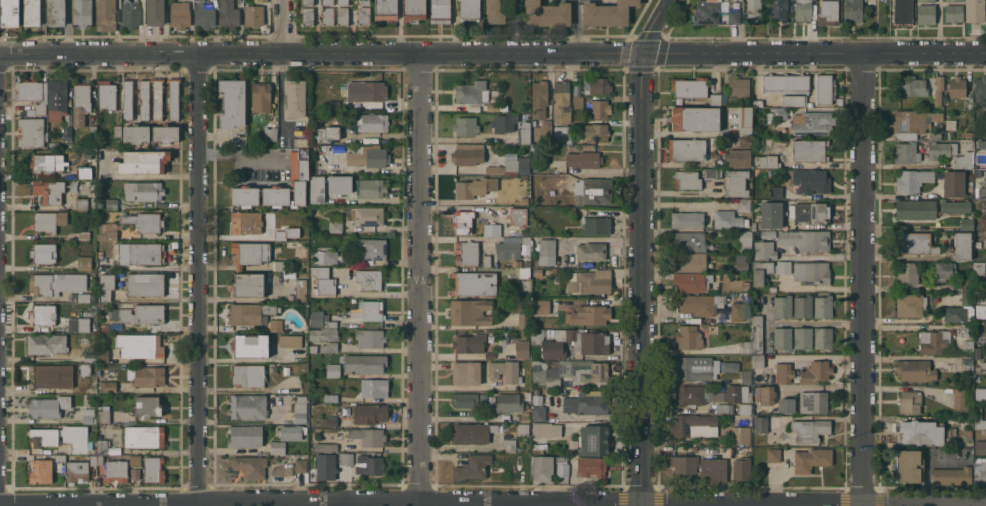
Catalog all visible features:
building: (262, 1)
building: (926, 1)
building: (954, 1)
building: (307, 2)
building: (327, 2)
building: (342, 2)
building: (364, 2)
building: (386, 9)
building: (470, 9)
building: (778, 9)
building: (414, 10)
building: (753, 10)
building: (803, 10)
building: (440, 11)
building: (496, 11)
building: (853, 11)
building: (975, 11)
building: (10, 12)
building: (31, 12)
building: (56, 12)
building: (82, 12)
building: (155, 12)
building: (707, 12)
building: (829, 12)
building: (902, 12)
building: (547, 13)
building: (607, 13)
building: (954, 13)
building: (925, 14)
building: (106, 15)
building: (130, 15)
building: (180, 15)
building: (204, 15)
building: (229, 15)
building: (254, 15)
building: (364, 15)
building: (307, 16)
building: (328, 16)
building: (342, 16)
building: (734, 16)
road: (575, 25)
road: (939, 25)
road: (286, 27)
road: (492, 52)
road: (1, 72)
building: (785, 82)
building: (596, 85)
building: (910, 86)
building: (690, 87)
building: (738, 87)
building: (957, 87)
building: (576, 88)
building: (824, 89)
building: (980, 89)
building: (30, 90)
building: (318, 90)
building: (938, 90)
building: (366, 91)
building: (472, 92)
building: (57, 95)
building: (107, 95)
building: (261, 97)
building: (157, 98)
building: (174, 98)
building: (296, 98)
building: (127, 99)
building: (144, 99)
building: (539, 99)
building: (715, 99)
building: (794, 100)
building: (561, 102)
building: (578, 102)
building: (757, 102)
building: (233, 103)
building: (81, 104)
building: (334, 105)
building: (492, 107)
building: (40, 109)
building: (598, 109)
building: (780, 113)
building: (695, 118)
building: (745, 119)
building: (914, 120)
building: (504, 122)
building: (373, 123)
building: (533, 123)
building: (578, 123)
building: (812, 123)
building: (950, 125)
building: (465, 126)
building: (93, 131)
building: (117, 131)
building: (543, 131)
building: (31, 132)
building: (67, 132)
building: (326, 132)
building: (136, 133)
building: (166, 133)
building: (270, 133)
building: (596, 133)
building: (524, 134)
building: (935, 135)
building: (568, 137)
building: (785, 139)
building: (760, 141)
building: (715, 142)
building: (745, 142)
building: (981, 144)
building: (687, 149)
building: (940, 149)
building: (809, 150)
road: (237, 153)
building: (907, 153)
building: (468, 154)
building: (87, 156)
building: (368, 156)
building: (739, 157)
building: (583, 159)
building: (963, 160)
building: (144, 161)
building: (766, 161)
building: (47, 164)
building: (511, 167)
building: (81, 173)
building: (712, 173)
building: (977, 173)
building: (299, 176)
building: (687, 180)
building: (912, 180)
building: (811, 181)
building: (985, 181)
building: (736, 183)
building: (338, 184)
building: (954, 184)
building: (315, 188)
building: (371, 188)
building: (467, 188)
building: (49, 191)
building: (143, 191)
building: (592, 191)
building: (327, 192)
building: (509, 192)
building: (776, 192)
building: (979, 193)
building: (245, 196)
building: (276, 196)
building: (569, 201)
road: (677, 203)
building: (82, 204)
building: (743, 205)
building: (955, 206)
building: (569, 209)
building: (916, 209)
building: (811, 212)
building: (771, 215)
building: (368, 216)
building: (518, 216)
building: (688, 219)
building: (727, 219)
building: (49, 221)
building: (144, 221)
building: (246, 222)
building: (464, 222)
building: (967, 223)
building: (984, 223)
building: (597, 225)
building: (335, 226)
building: (491, 229)
building: (525, 233)
building: (292, 234)
building: (768, 234)
building: (84, 235)
building: (108, 236)
building: (985, 237)
road: (604, 239)
building: (806, 239)
building: (526, 240)
building: (745, 240)
building: (689, 241)
building: (914, 243)
building: (977, 244)
building: (963, 245)
building: (371, 249)
road: (641, 249)
building: (508, 250)
building: (764, 250)
building: (547, 251)
building: (591, 251)
building: (44, 253)
building: (145, 253)
building: (250, 253)
building: (467, 253)
building: (325, 256)
building: (489, 261)
building: (690, 261)
building: (84, 262)
building: (105, 262)
building: (742, 262)
building: (969, 264)
building: (280, 266)
building: (980, 268)
building: (768, 270)
building: (944, 270)
building: (537, 271)
building: (555, 271)
building: (812, 272)
building: (524, 273)
building: (907, 273)
building: (93, 274)
road: (862, 278)
road: (198, 279)
building: (368, 279)
road: (422, 279)
building: (323, 280)
building: (589, 281)
building: (692, 282)
building: (57, 283)
building: (474, 283)
building: (145, 284)
building: (248, 284)
building: (967, 284)
building: (745, 285)
building: (106, 286)
building: (773, 289)
building: (301, 290)
building: (84, 297)
building: (966, 299)
building: (700, 303)
building: (101, 304)
building: (911, 305)
building: (542, 306)
building: (783, 306)
building: (803, 306)
building: (823, 306)
building: (371, 310)
building: (737, 311)
building: (470, 312)
building: (954, 313)
building: (42, 314)
building: (140, 314)
building: (250, 314)
building: (588, 315)
building: (524, 320)
road: (811, 321)
building: (319, 323)
building: (330, 323)
building: (84, 325)
building: (276, 325)
building: (105, 327)
road: (908, 327)
building: (966, 330)
building: (324, 334)
building: (758, 334)
building: (537, 335)
building: (688, 337)
building: (370, 338)
building: (783, 338)
building: (823, 338)
building: (586, 340)
building: (290, 341)
building: (934, 341)
building: (47, 343)
building: (469, 343)
building: (141, 345)
building: (250, 345)
building: (968, 345)
building: (329, 347)
building: (746, 347)
building: (313, 348)
building: (522, 349)
building: (553, 349)
building: (103, 355)
building: (90, 357)
building: (758, 361)
building: (365, 363)
building: (967, 364)
building: (729, 366)
building: (697, 368)
building: (981, 368)
building: (333, 370)
building: (915, 370)
building: (286, 371)
building: (505, 371)
building: (570, 371)
building: (99, 372)
building: (784, 372)
building: (816, 372)
building: (466, 373)
building: (90, 375)
building: (146, 375)
building: (248, 375)
building: (52, 376)
building: (746, 376)
building: (977, 377)
building: (107, 386)
building: (374, 388)
building: (711, 394)
building: (765, 394)
building: (980, 394)
building: (528, 395)
building: (483, 397)
building: (331, 398)
building: (960, 399)
building: (464, 400)
building: (537, 400)
building: (814, 402)
building: (910, 402)
building: (510, 403)
building: (586, 404)
building: (787, 405)
building: (49, 406)
building: (148, 406)
building: (248, 406)
building: (722, 409)
building: (745, 409)
building: (300, 410)
building: (733, 410)
building: (369, 413)
building: (539, 413)
building: (89, 416)
building: (103, 416)
building: (524, 417)
road: (457, 418)
building: (742, 420)
building: (329, 421)
building: (979, 421)
building: (761, 424)
building: (696, 426)
building: (523, 429)
building: (544, 429)
building: (810, 430)
building: (291, 432)
building: (472, 433)
building: (921, 433)
building: (741, 434)
building: (144, 436)
building: (245, 436)
building: (368, 436)
building: (44, 438)
building: (592, 440)
building: (509, 442)
building: (103, 447)
building: (277, 447)
building: (326, 447)
building: (980, 447)
building: (95, 450)
building: (773, 454)
building: (59, 458)
building: (346, 459)
building: (811, 459)
building: (94, 460)
building: (100, 460)
building: (135, 460)
building: (370, 464)
building: (684, 464)
building: (301, 465)
building: (250, 466)
building: (562, 466)
building: (908, 466)
building: (326, 467)
building: (472, 467)
building: (590, 467)
building: (542, 468)
building: (153, 469)
building: (713, 469)
building: (741, 469)
building: (41, 471)
building: (116, 471)
building: (77, 472)
building: (979, 472)
building: (134, 473)
building: (951, 476)
road: (320, 504)
road: (533, 504)
road: (312, 505)
road: (813, 505)
road: (971, 505)

